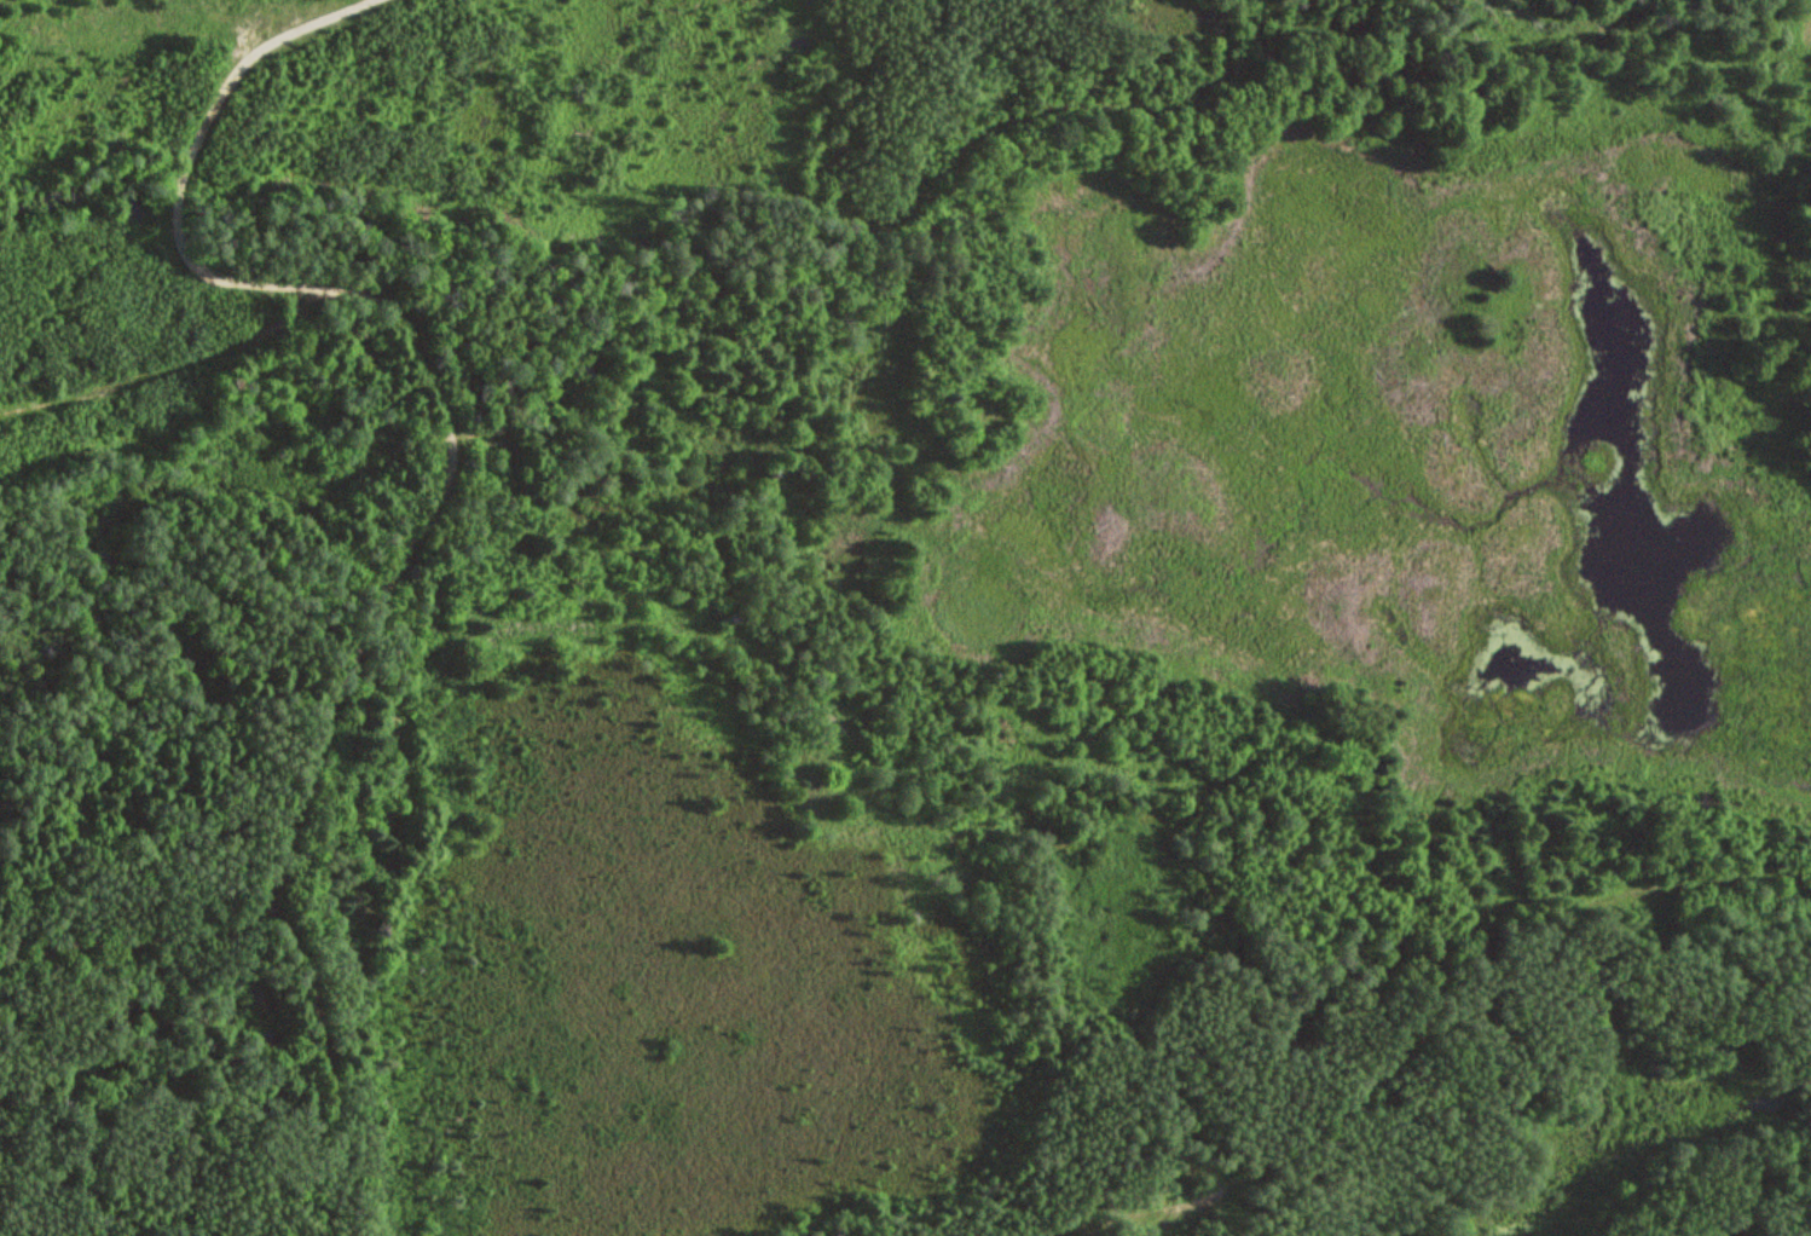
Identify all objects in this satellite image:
road: (132, 941)
road: (1424, 1033)
road: (326, 1062)

